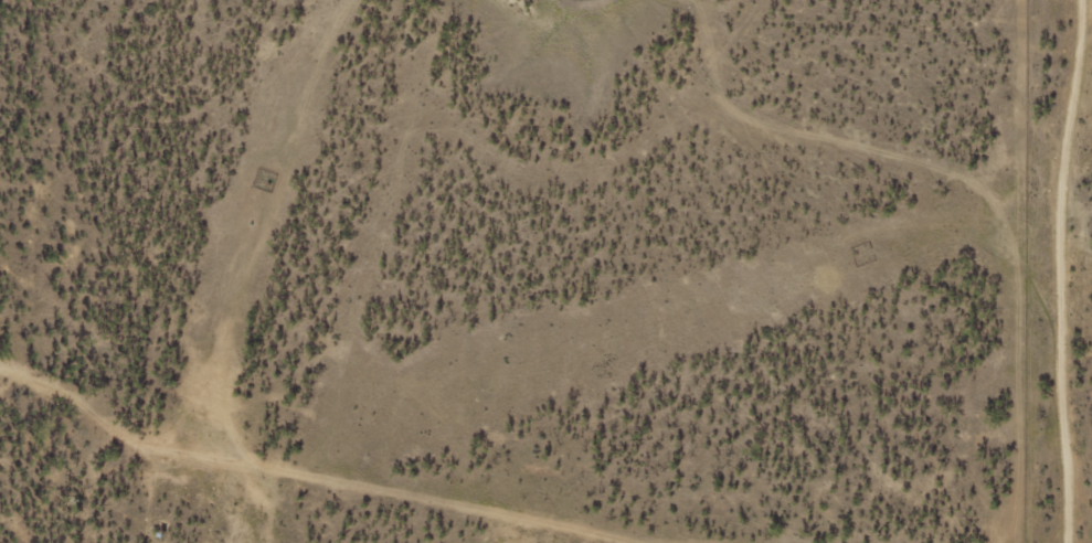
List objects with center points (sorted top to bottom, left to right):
road: (1067, 270)

